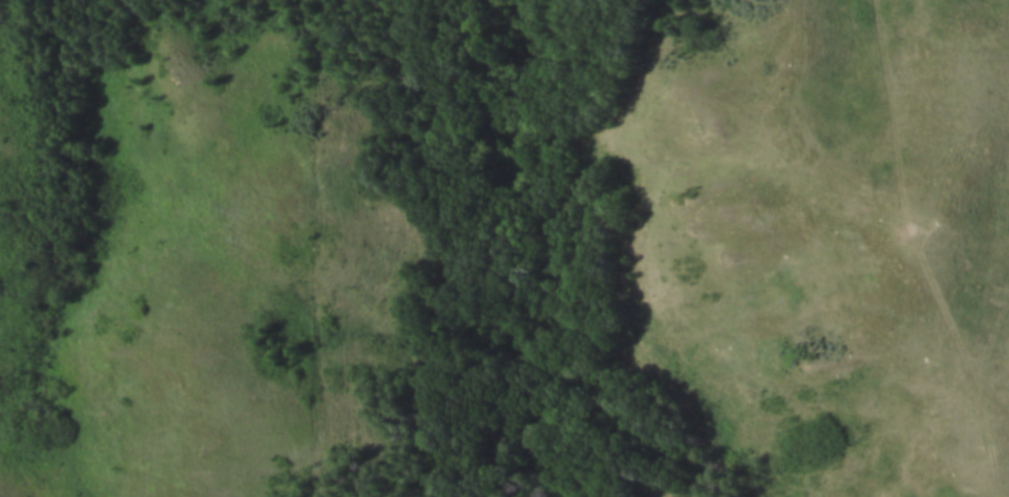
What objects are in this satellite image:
road: (922, 245)

